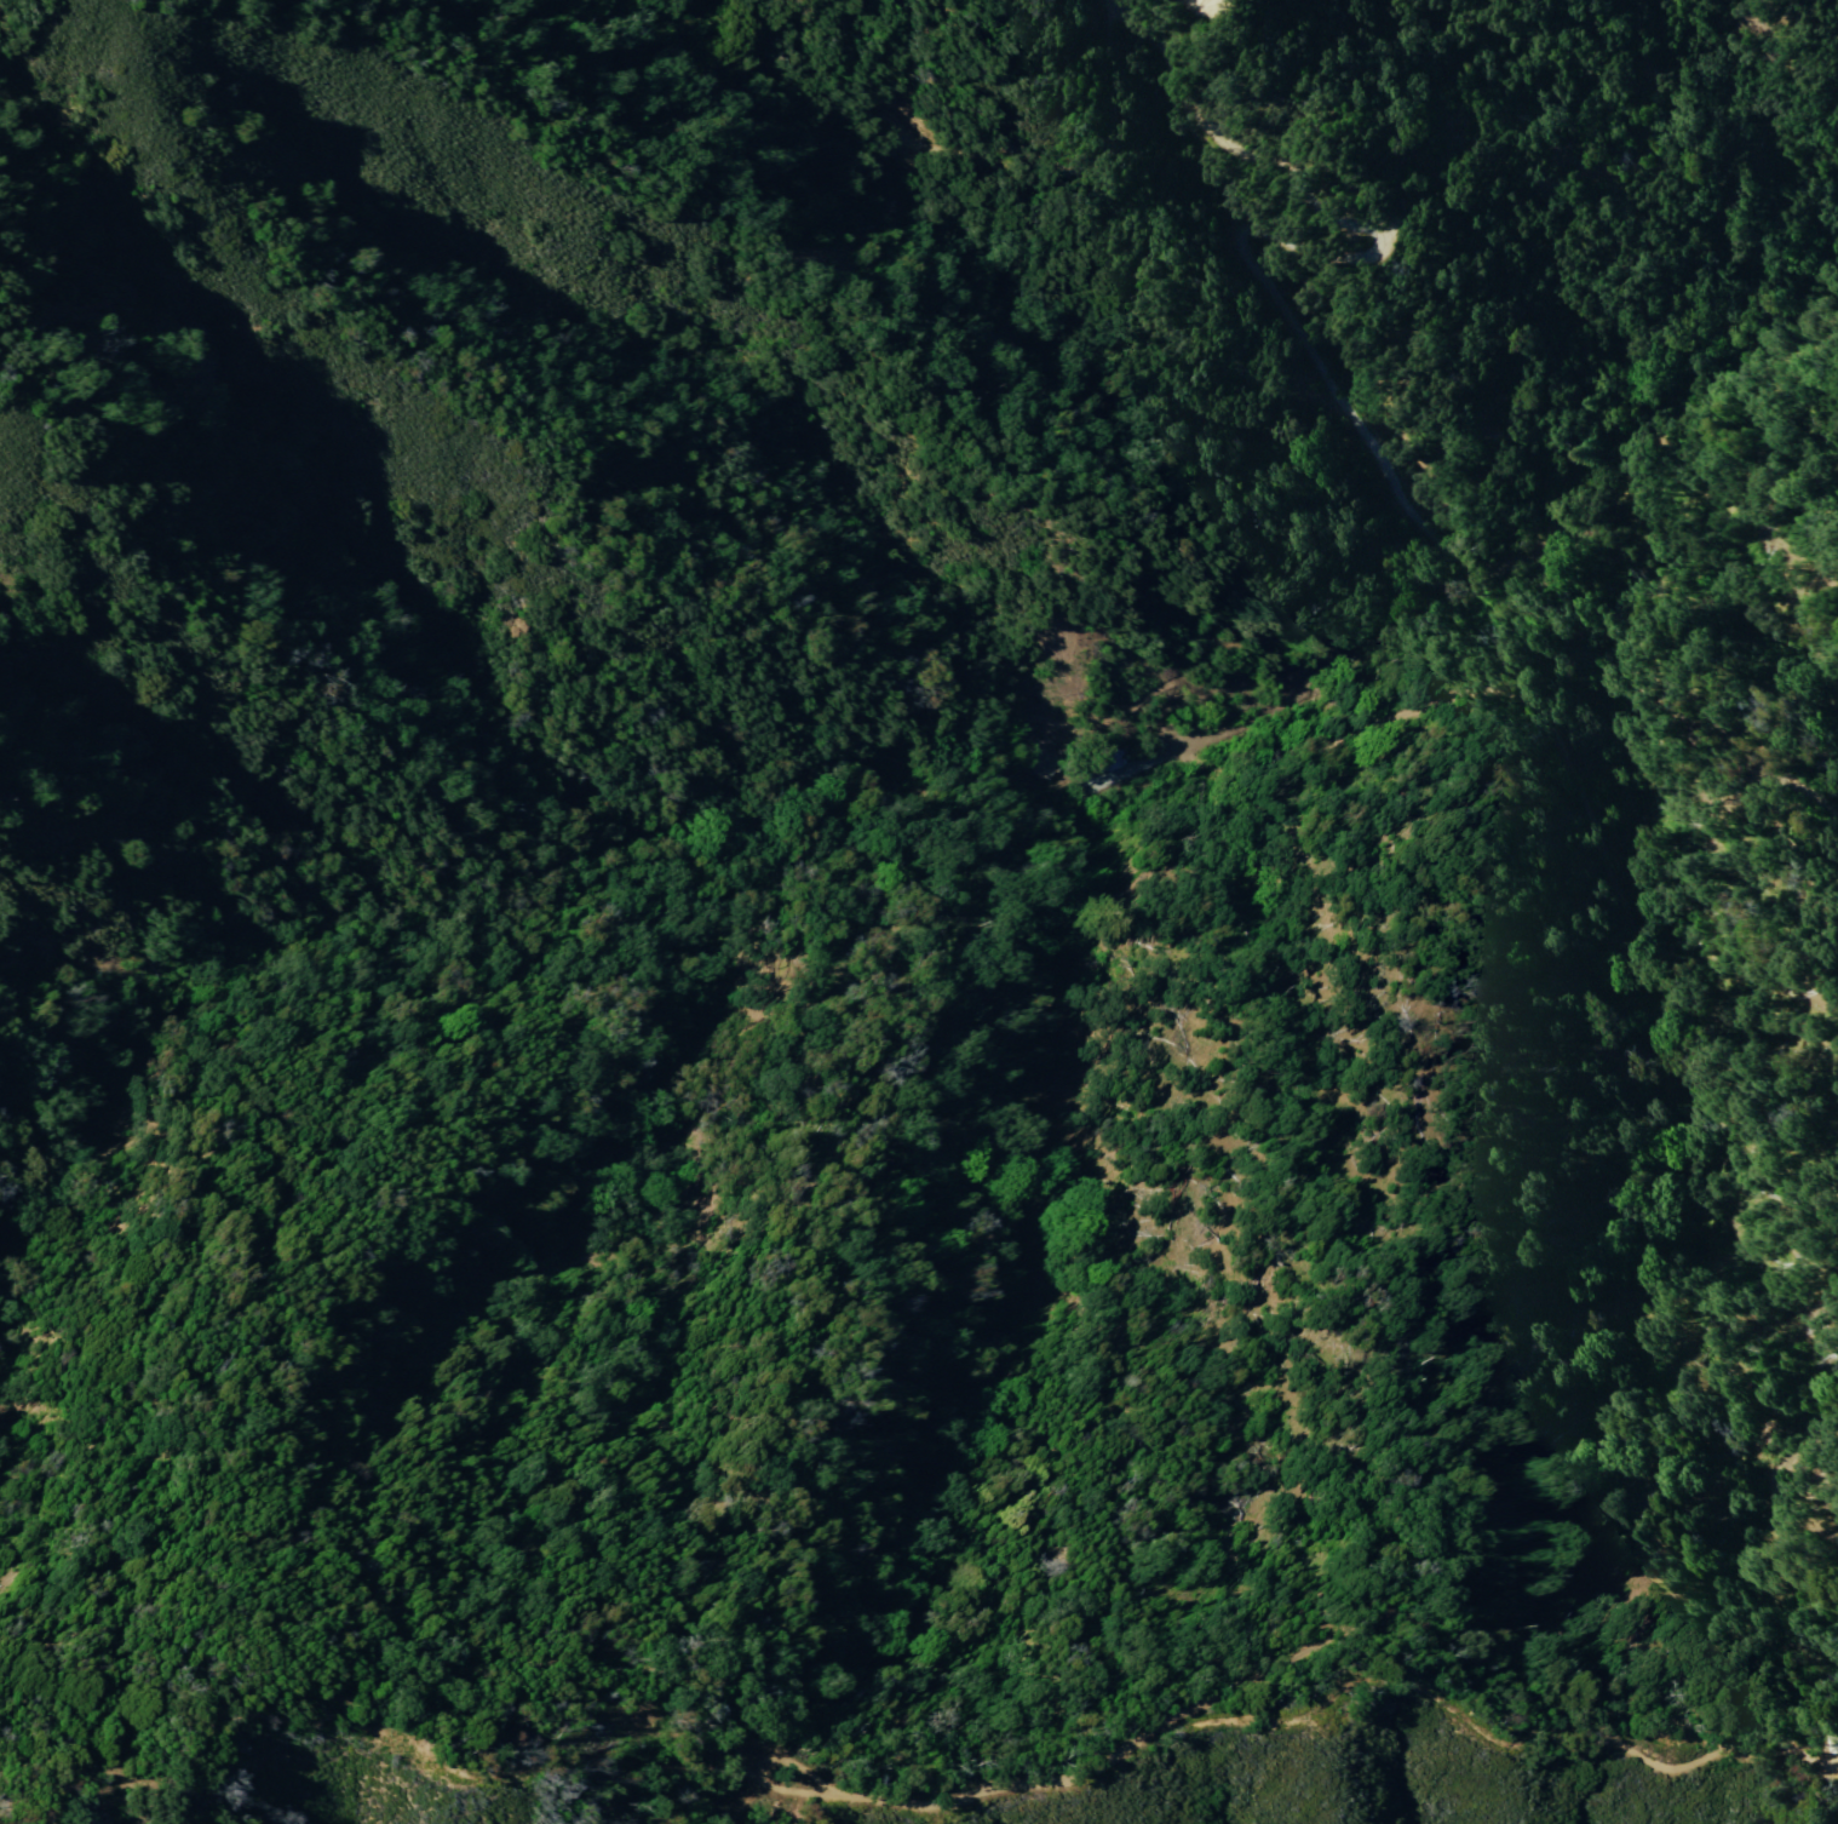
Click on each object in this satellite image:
building: (1104, 759)
building: (1044, 764)

